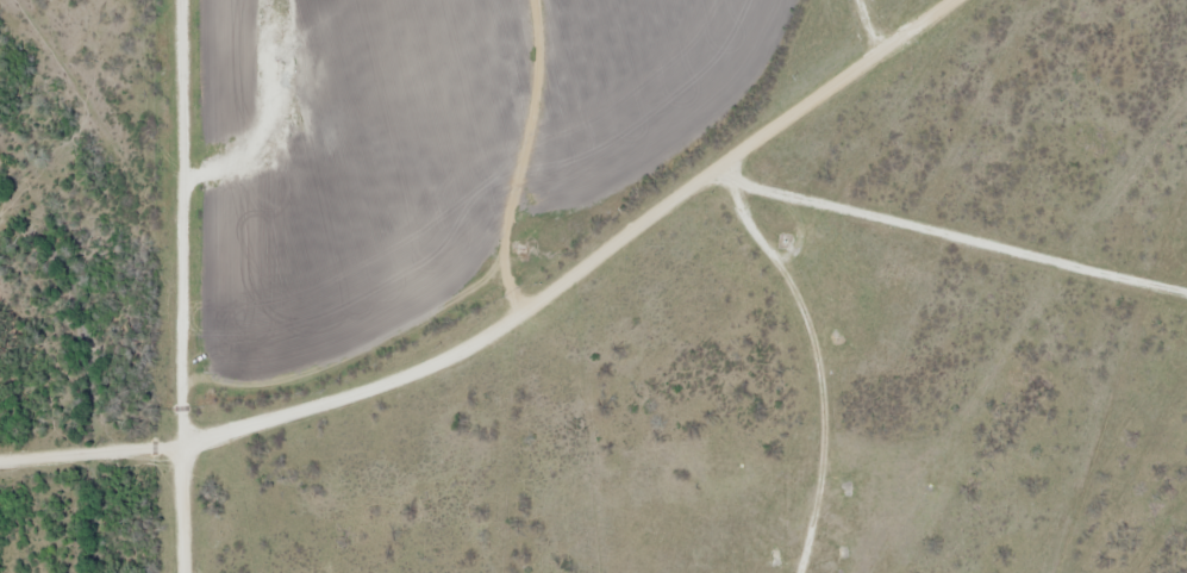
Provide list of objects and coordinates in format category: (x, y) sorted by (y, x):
road: (170, 214)
road: (974, 248)
road: (502, 305)
road: (825, 353)
road: (175, 500)

